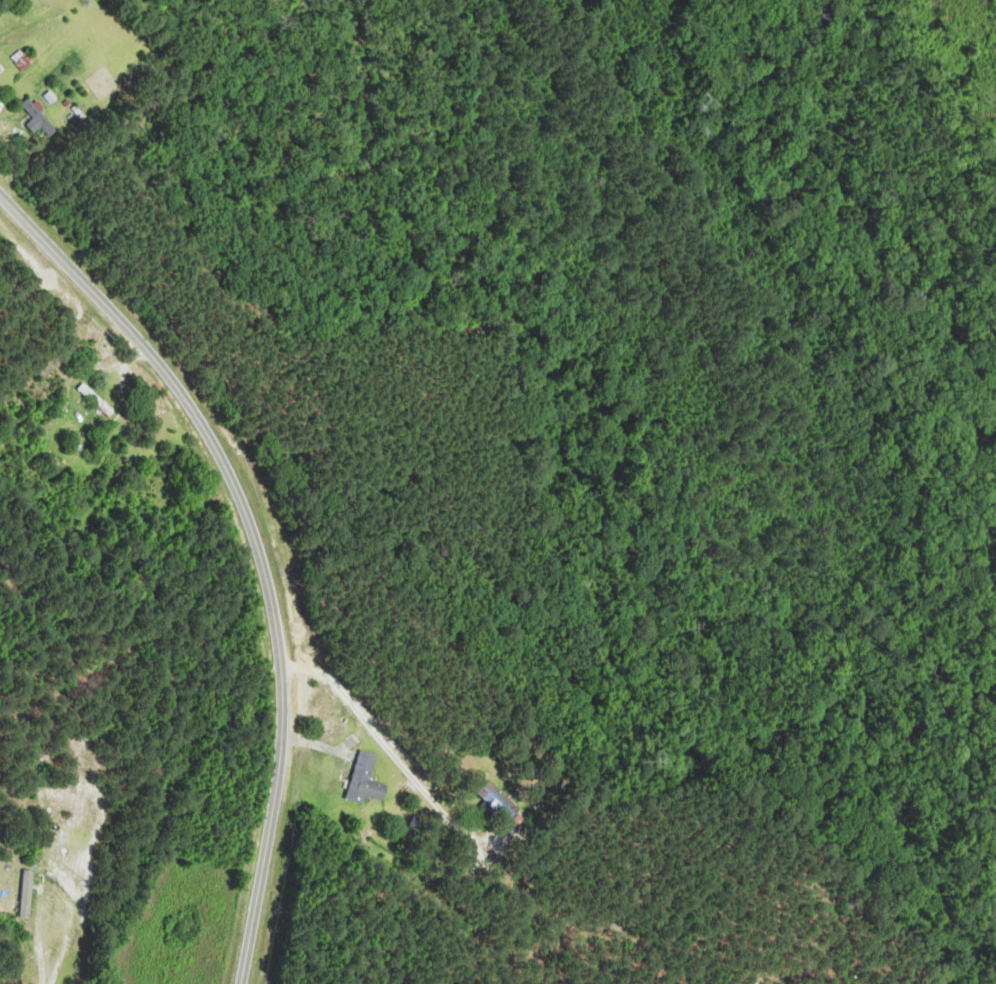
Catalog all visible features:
building: (1, 69)
building: (39, 117)
building: (96, 400)
road: (256, 547)
building: (365, 780)
building: (497, 802)

